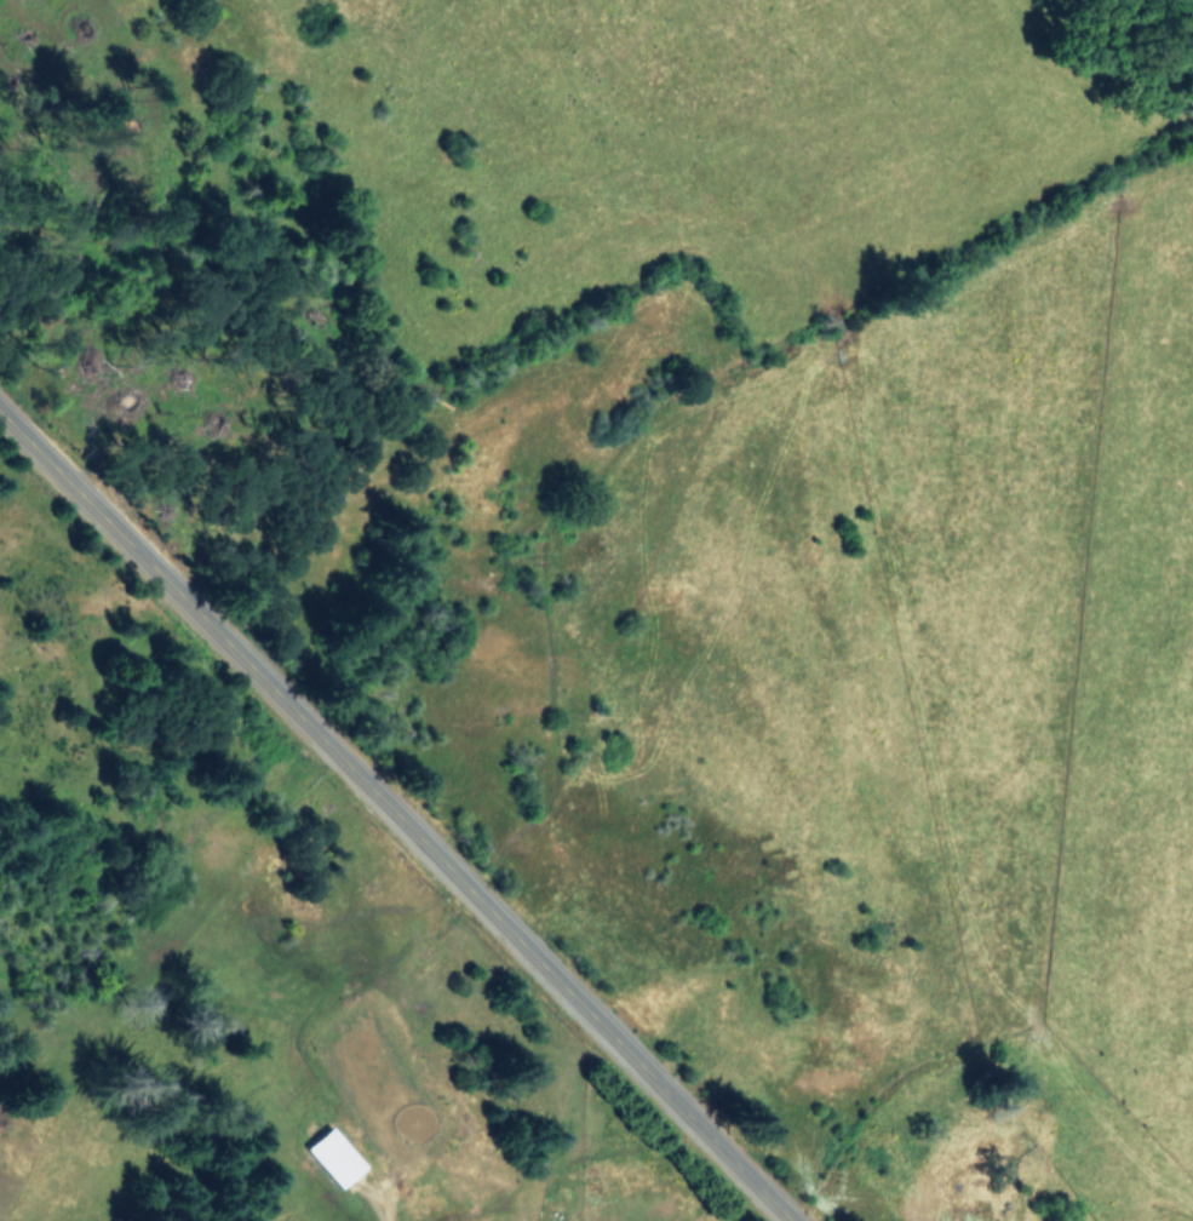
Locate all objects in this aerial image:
crop: (908, 747)
road: (398, 816)
building: (335, 1156)

